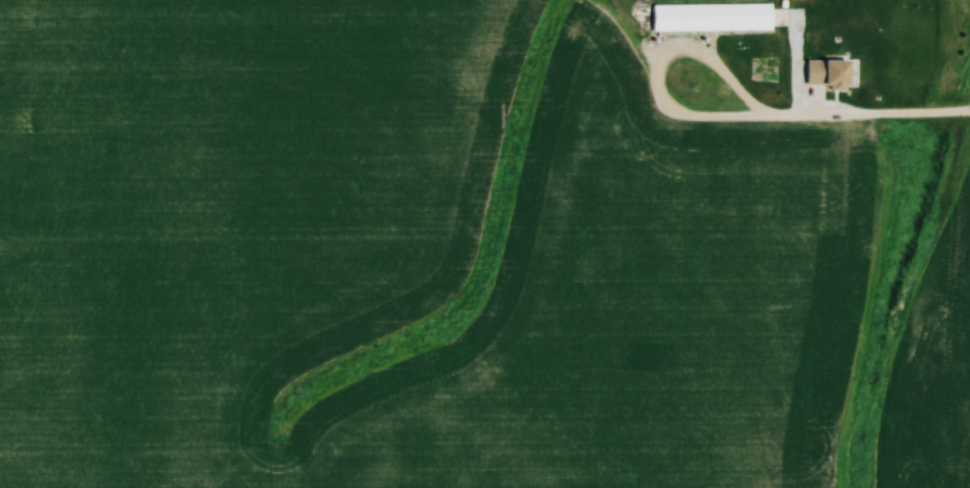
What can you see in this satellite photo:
building: (710, 16)
road: (661, 93)
road: (876, 119)

